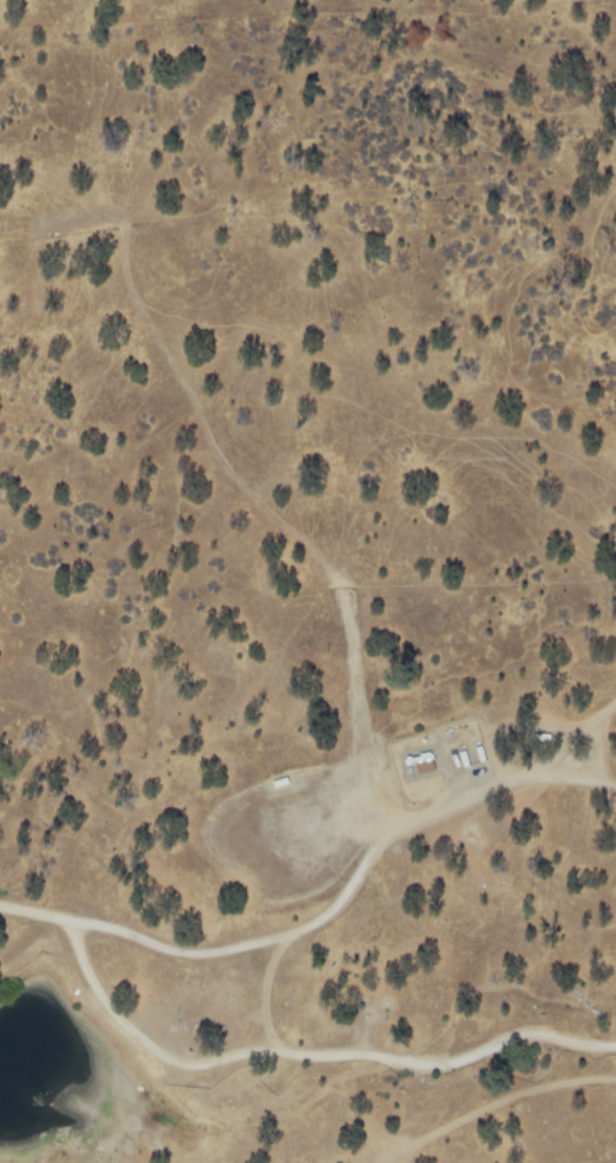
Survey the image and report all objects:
building: (427, 764)
road: (321, 904)

